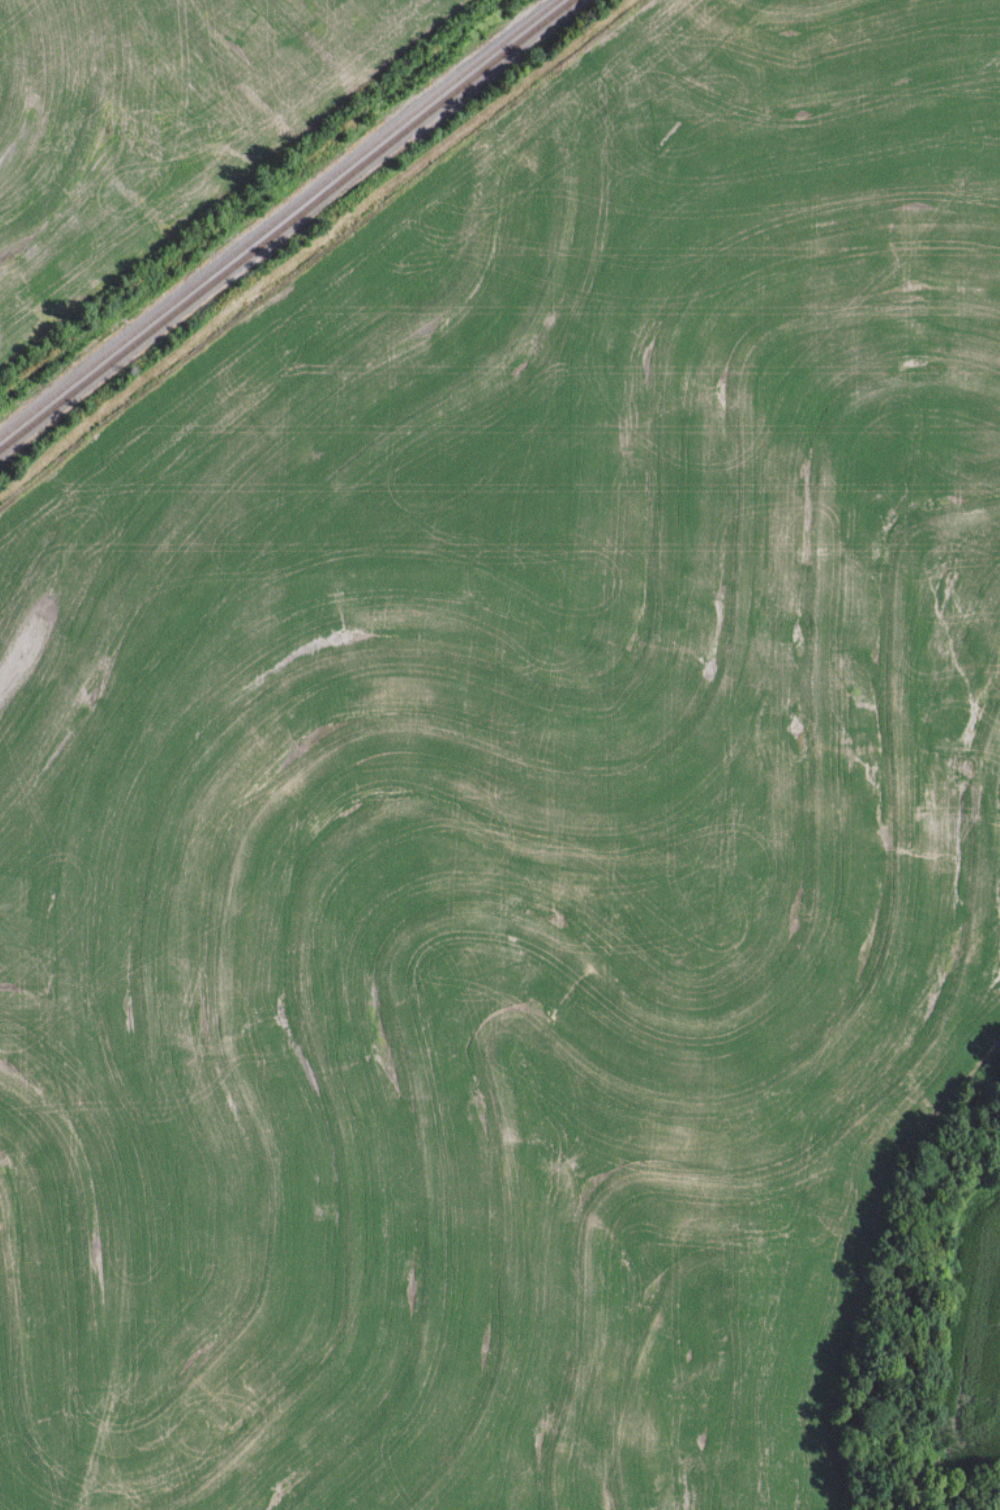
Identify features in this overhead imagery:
railway: (277, 217)
railway: (286, 224)

